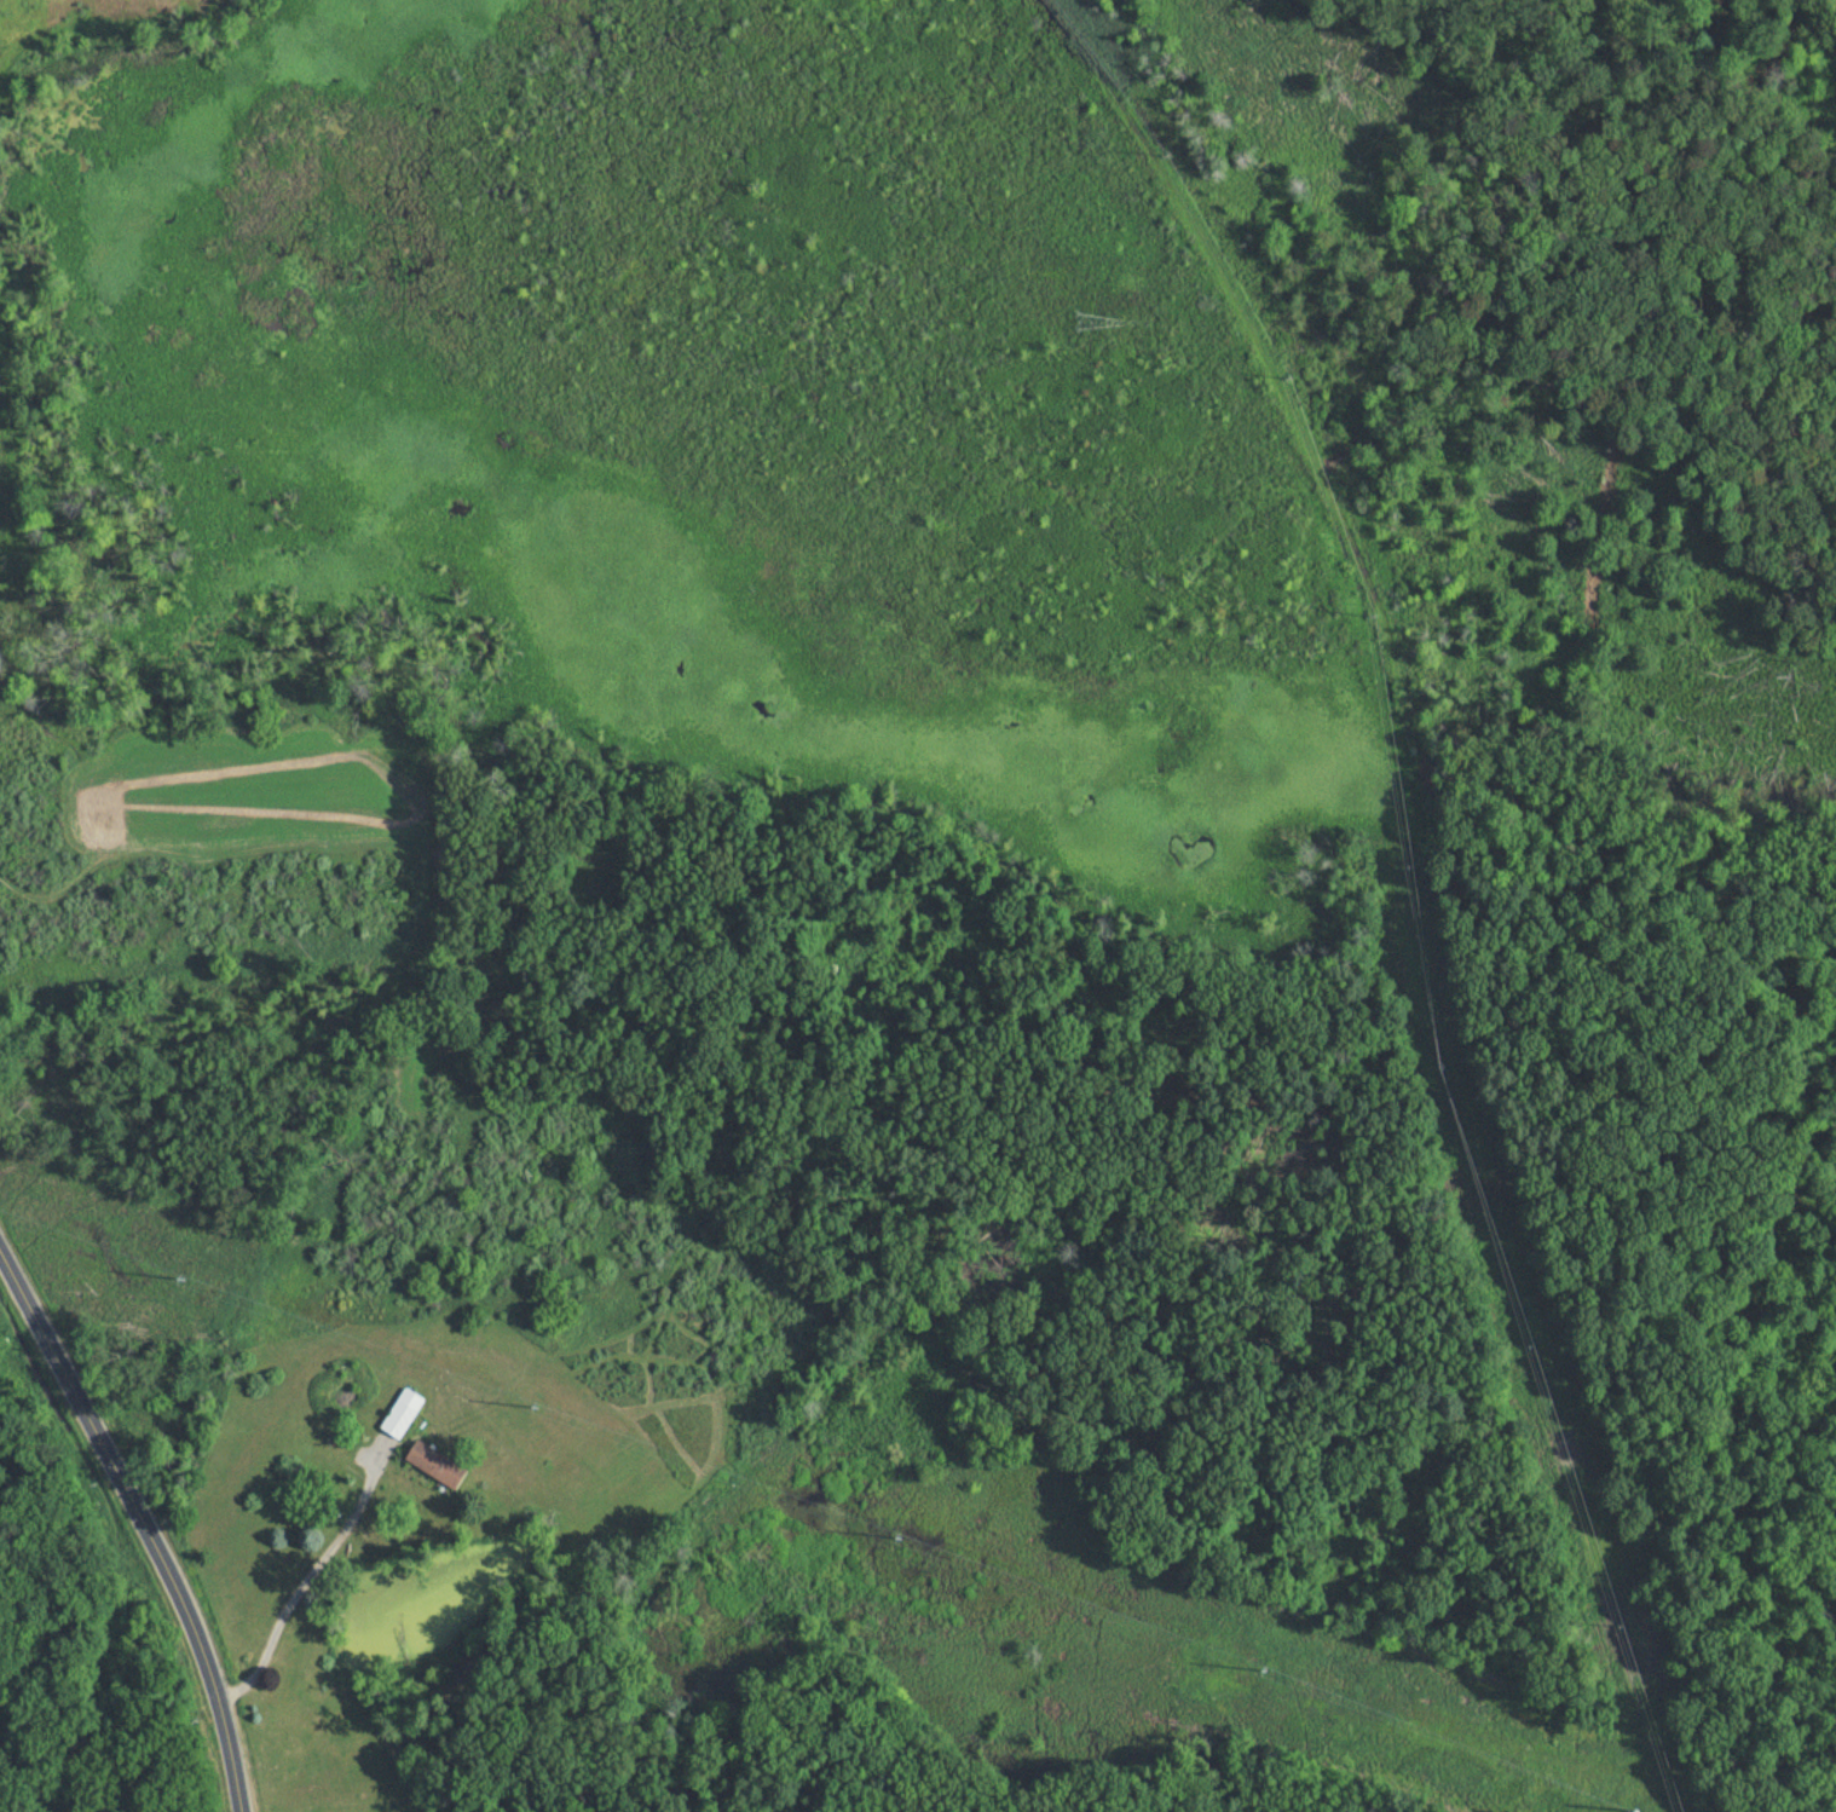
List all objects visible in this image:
building: (397, 1414)
building: (428, 1465)
road: (145, 1522)
road: (300, 1580)

